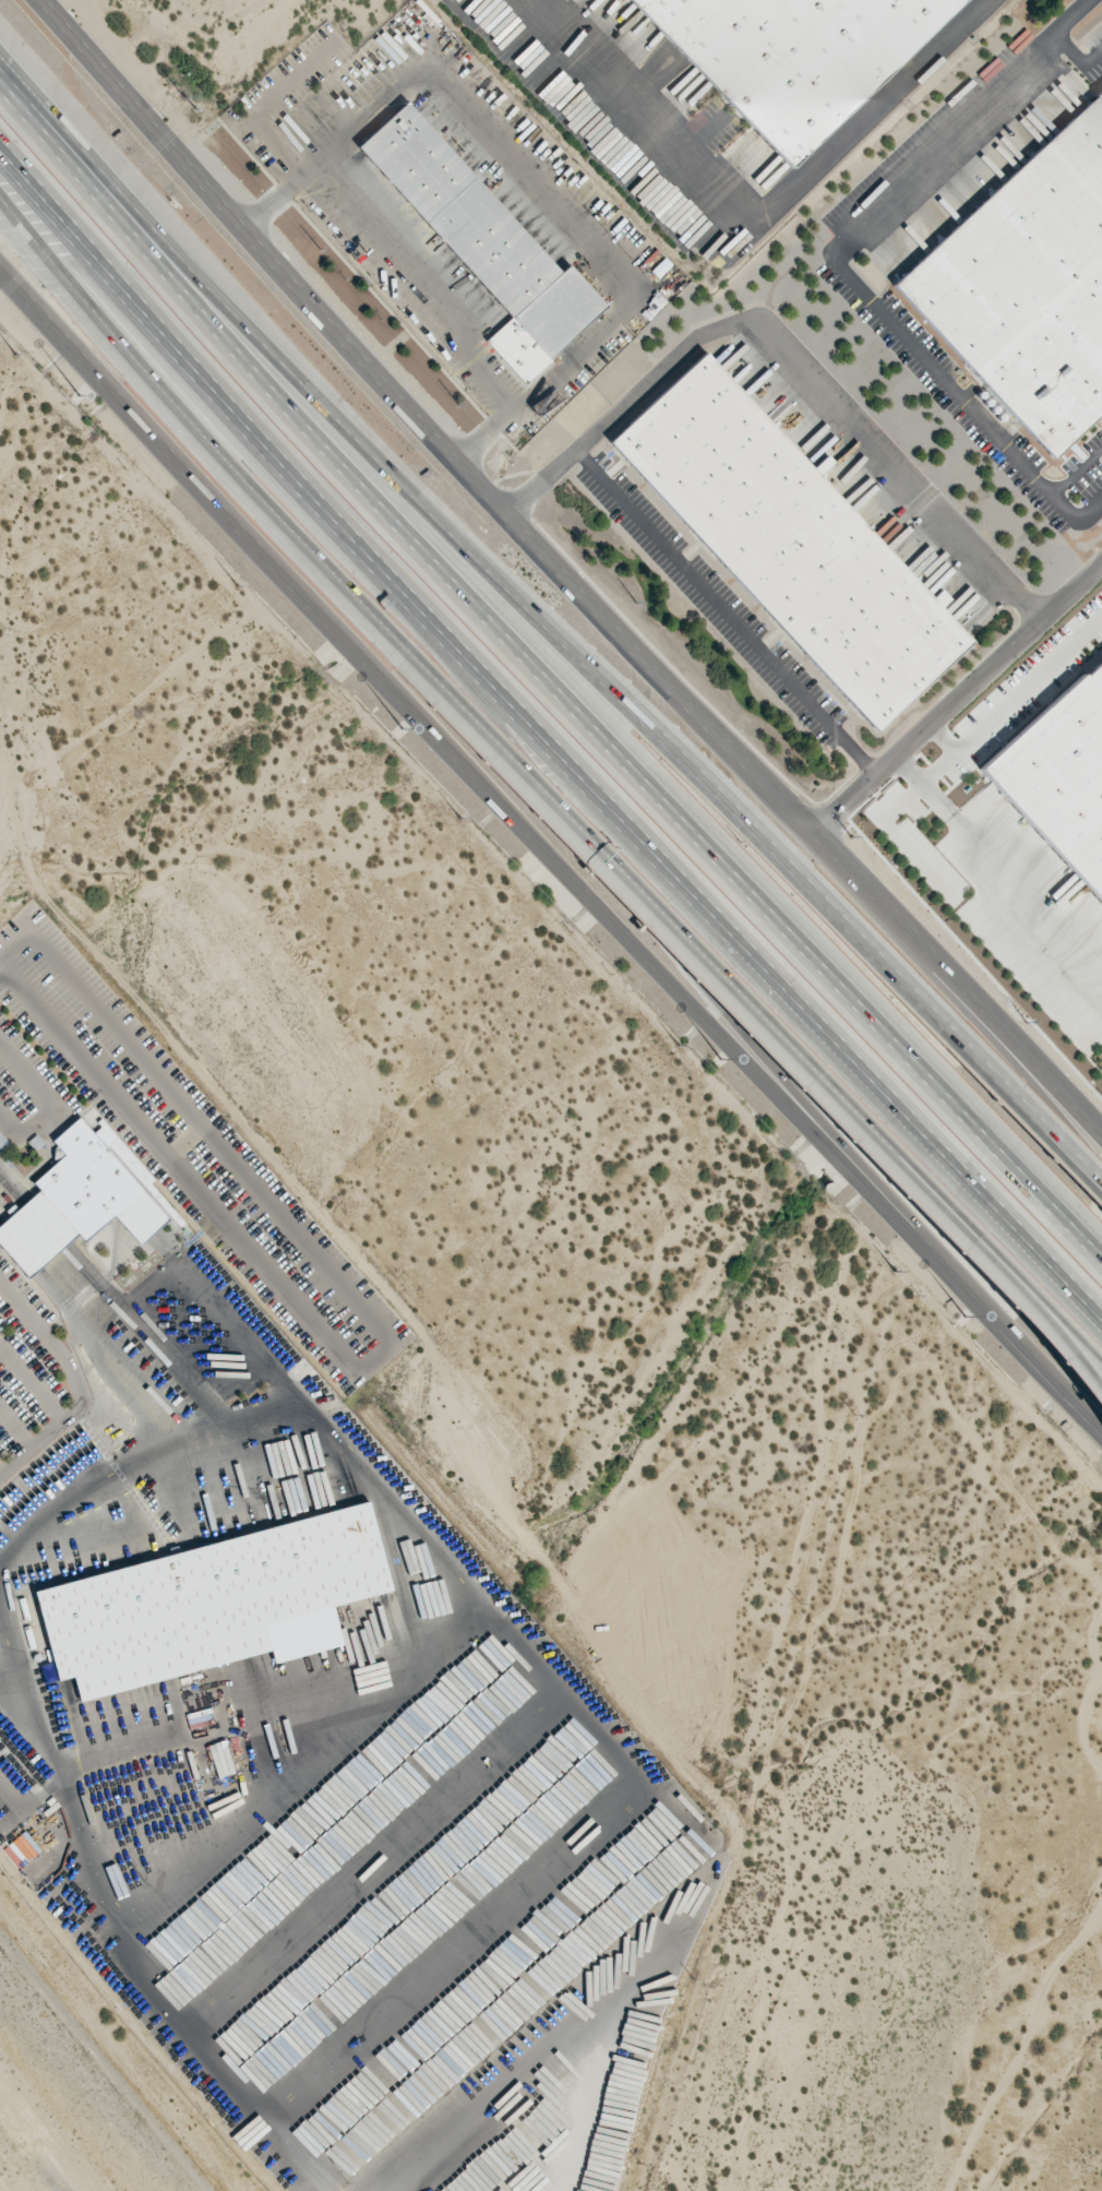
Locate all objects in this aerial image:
road: (1076, 53)
building: (794, 56)
road: (760, 204)
road: (845, 237)
building: (483, 242)
building: (1028, 286)
road: (820, 386)
road: (194, 428)
road: (541, 477)
road: (1052, 490)
building: (790, 540)
road: (468, 560)
road: (571, 574)
road: (723, 610)
road: (541, 682)
road: (956, 696)
road: (1014, 700)
road: (548, 735)
road: (945, 736)
building: (1061, 775)
road: (547, 783)
road: (487, 803)
road: (1001, 866)
road: (676, 931)
road: (10, 945)
road: (962, 1015)
road: (1025, 1116)
building: (81, 1198)
road: (1022, 1293)
road: (1023, 1309)
road: (1045, 1366)
building: (209, 1604)
road: (16, 1786)

